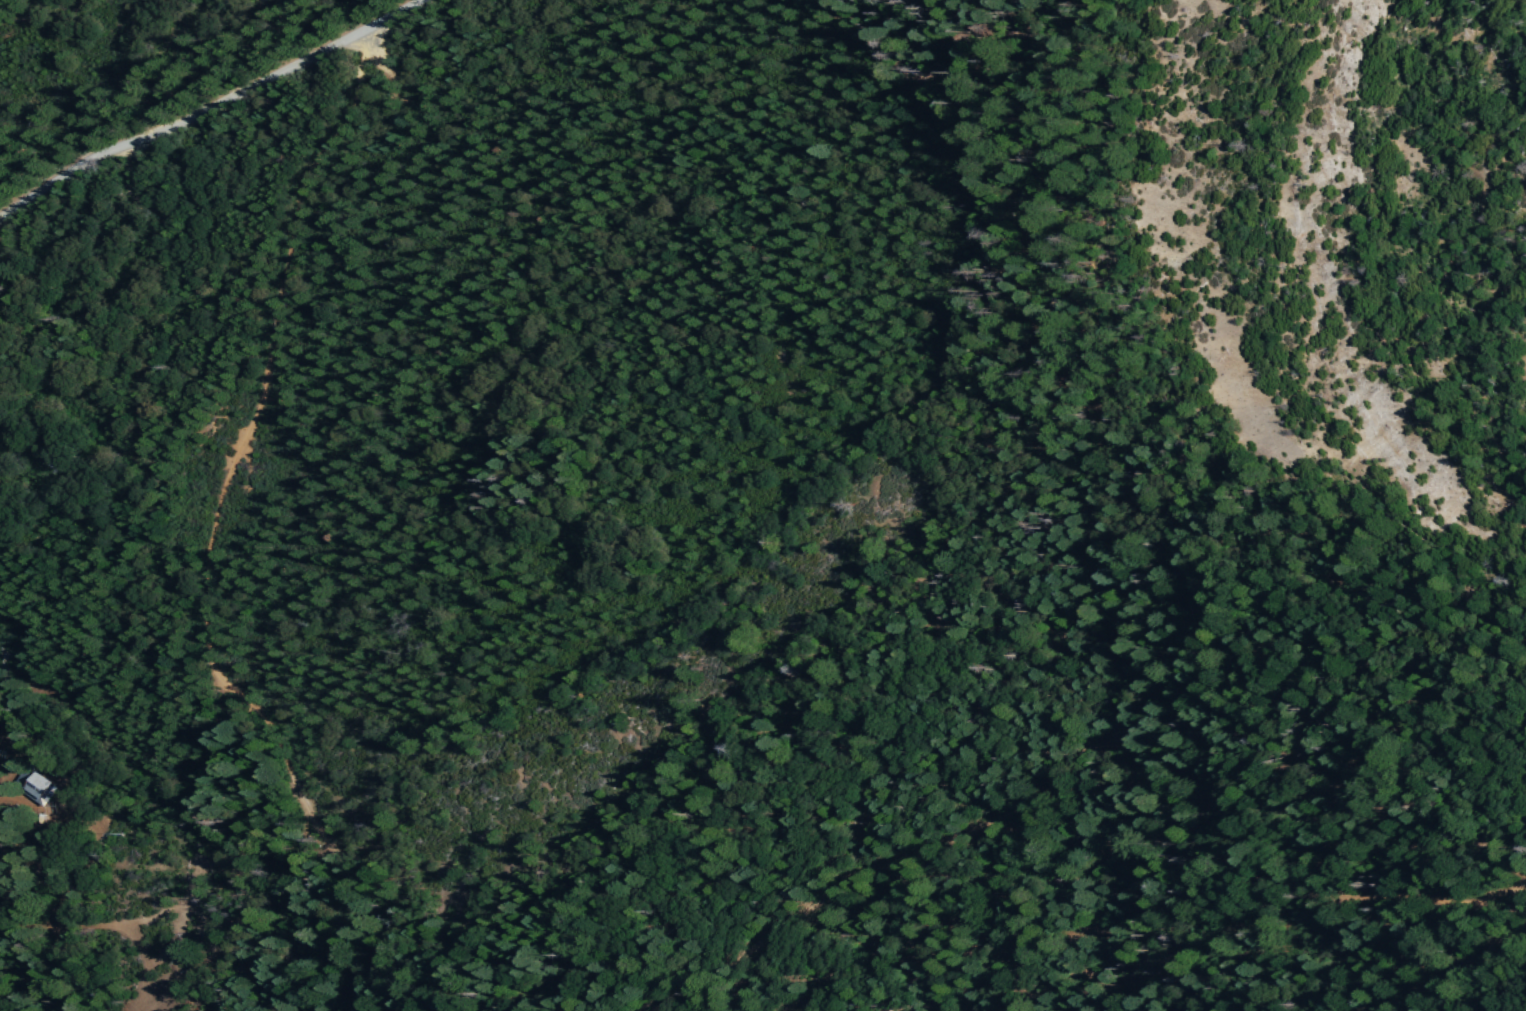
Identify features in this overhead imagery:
road: (389, 15)
road: (182, 115)
road: (274, 356)
road: (1078, 753)
road: (330, 836)
road: (200, 853)
road: (62, 911)
road: (1437, 974)

